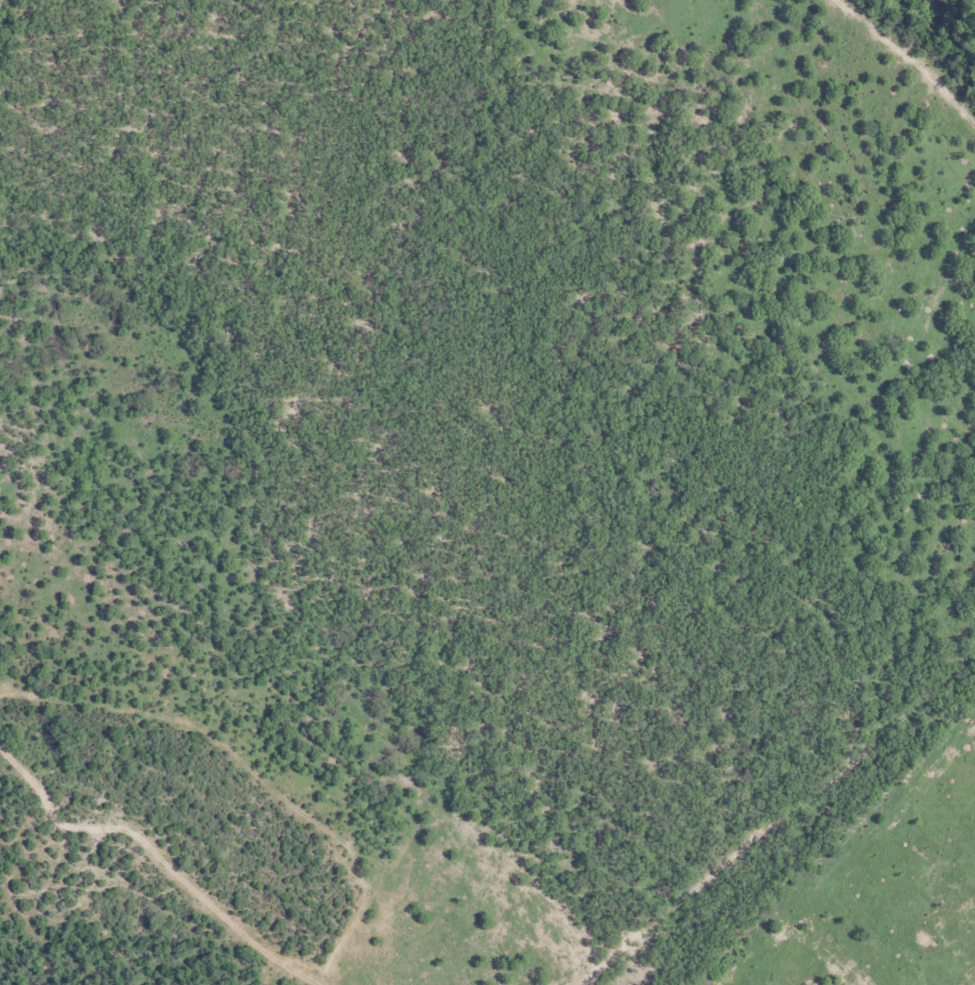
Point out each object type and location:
road: (777, 0)

